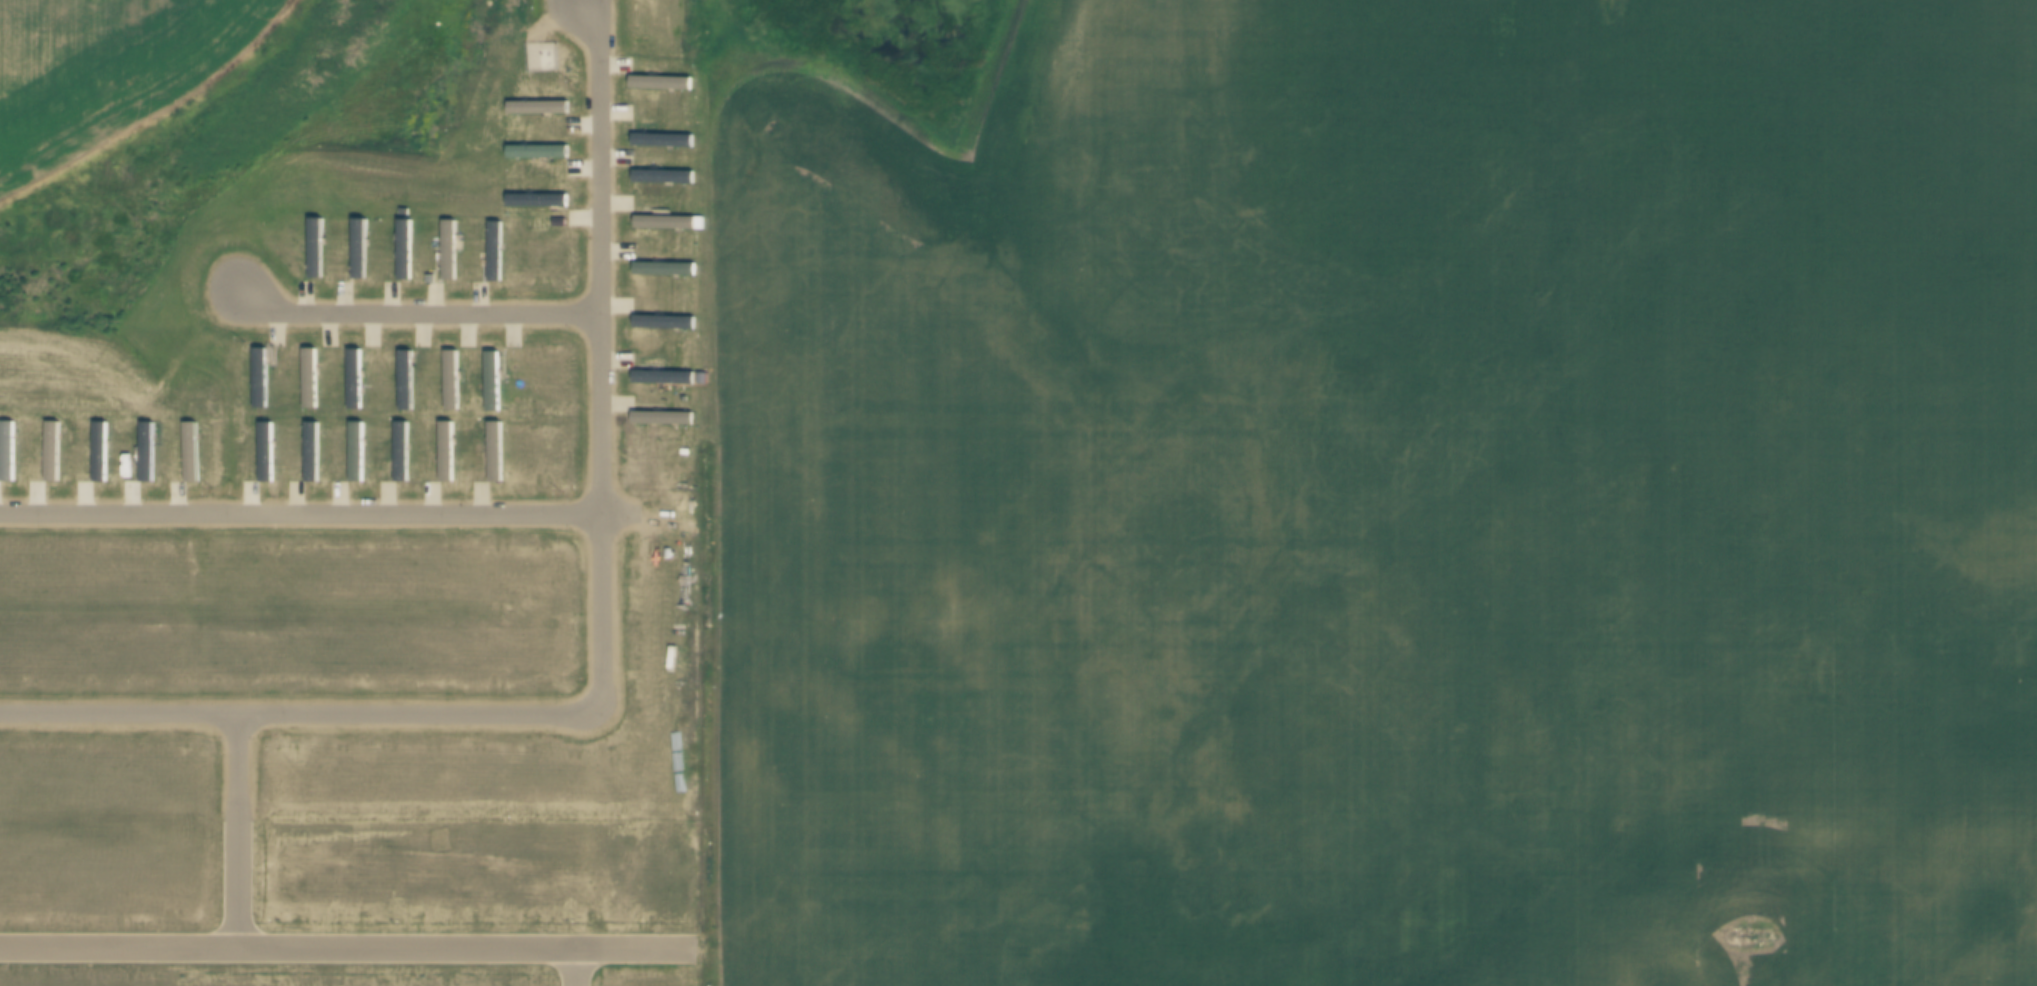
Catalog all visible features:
building: (659, 86)
building: (536, 113)
building: (660, 144)
building: (535, 155)
building: (661, 180)
building: (535, 205)
building: (401, 216)
building: (663, 227)
building: (313, 253)
building: (356, 253)
building: (401, 253)
building: (445, 255)
building: (492, 255)
building: (662, 273)
road: (414, 313)
building: (662, 327)
building: (257, 382)
building: (307, 382)
building: (662, 382)
building: (352, 383)
building: (403, 383)
building: (448, 384)
building: (490, 385)
building: (662, 423)
building: (398, 454)
building: (444, 454)
building: (5, 455)
building: (308, 455)
building: (353, 455)
building: (493, 455)
building: (50, 456)
building: (98, 456)
building: (145, 456)
building: (190, 457)
building: (264, 457)
road: (334, 517)
road: (597, 647)
road: (232, 830)
road: (286, 948)
road: (630, 950)
road: (572, 968)

